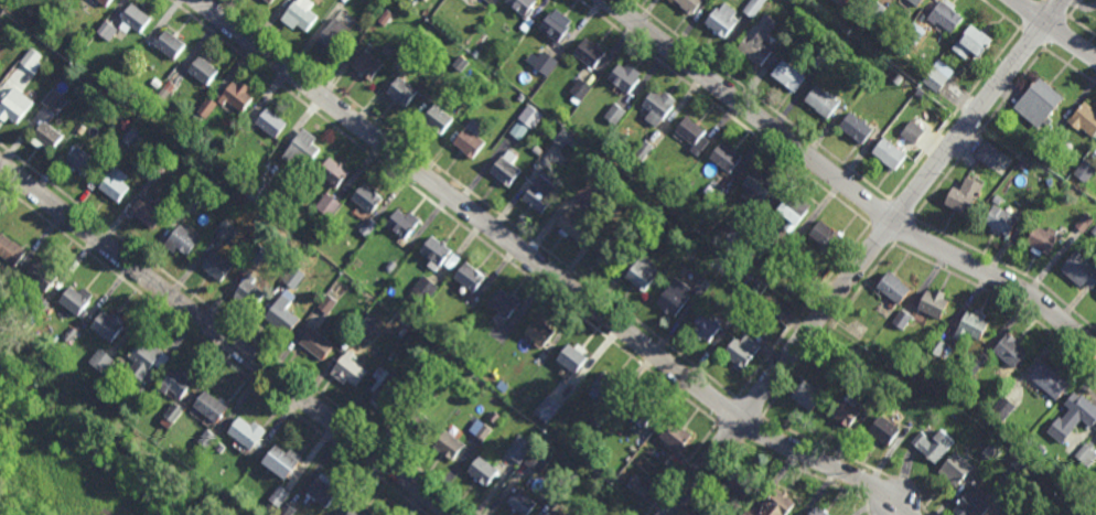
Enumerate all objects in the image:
building: (270, 1)
building: (104, 2)
building: (838, 2)
building: (915, 2)
building: (520, 6)
building: (689, 6)
building: (752, 7)
road: (1056, 9)
road: (1075, 9)
building: (875, 11)
building: (298, 14)
building: (943, 14)
road: (999, 14)
road: (1029, 14)
building: (721, 20)
building: (132, 22)
building: (552, 25)
building: (12, 26)
road: (1082, 26)
building: (860, 29)
road: (1054, 29)
building: (107, 30)
road: (1055, 32)
building: (913, 33)
building: (333, 36)
building: (782, 39)
road: (1030, 39)
building: (969, 43)
building: (169, 46)
building: (388, 51)
building: (753, 51)
building: (588, 55)
building: (820, 58)
building: (31, 60)
building: (466, 62)
building: (541, 63)
road: (1070, 65)
building: (366, 67)
building: (202, 73)
building: (787, 76)
building: (937, 76)
building: (624, 79)
building: (898, 79)
building: (154, 83)
building: (169, 88)
building: (580, 90)
building: (400, 92)
building: (163, 94)
building: (237, 97)
building: (520, 97)
road: (759, 99)
building: (55, 101)
building: (1038, 103)
building: (819, 104)
building: (206, 107)
building: (13, 108)
building: (656, 108)
road: (724, 111)
building: (614, 114)
road: (953, 114)
building: (530, 117)
building: (1084, 119)
building: (270, 124)
building: (437, 125)
building: (80, 129)
building: (855, 129)
building: (518, 130)
building: (689, 132)
building: (912, 132)
road: (979, 132)
building: (130, 136)
building: (1047, 137)
building: (49, 138)
building: (567, 140)
building: (469, 141)
building: (302, 149)
building: (592, 150)
building: (536, 151)
building: (643, 151)
building: (585, 153)
building: (887, 154)
building: (989, 155)
building: (723, 160)
building: (598, 162)
building: (79, 164)
building: (1022, 165)
building: (632, 168)
building: (504, 169)
building: (643, 171)
building: (1085, 171)
building: (155, 173)
building: (334, 173)
building: (594, 176)
building: (243, 183)
road: (844, 184)
building: (757, 186)
building: (115, 187)
building: (257, 189)
building: (584, 190)
building: (720, 194)
building: (538, 195)
building: (365, 199)
road: (479, 199)
building: (961, 199)
building: (997, 199)
building: (625, 200)
building: (191, 203)
building: (327, 205)
road: (901, 208)
building: (147, 211)
road: (879, 212)
road: (444, 213)
building: (792, 213)
building: (1000, 222)
building: (1084, 222)
building: (399, 223)
building: (660, 225)
building: (572, 226)
building: (368, 227)
road: (905, 229)
building: (226, 230)
road: (883, 233)
building: (649, 238)
building: (824, 238)
building: (183, 242)
building: (734, 243)
building: (784, 243)
building: (1039, 244)
building: (608, 248)
building: (796, 250)
building: (9, 253)
building: (436, 253)
building: (258, 255)
road: (864, 257)
building: (390, 266)
road: (1009, 266)
building: (216, 269)
road: (547, 270)
building: (1079, 272)
building: (642, 273)
building: (37, 278)
building: (294, 278)
building: (469, 278)
building: (701, 288)
building: (423, 291)
building: (893, 291)
building: (248, 292)
road: (1001, 298)
building: (670, 301)
building: (72, 302)
building: (40, 304)
building: (326, 304)
building: (505, 305)
building: (934, 305)
building: (777, 309)
road: (804, 311)
building: (738, 312)
building: (280, 313)
building: (463, 313)
building: (365, 318)
building: (902, 318)
building: (105, 326)
building: (970, 329)
road: (238, 330)
building: (362, 330)
building: (703, 331)
road: (829, 331)
building: (69, 333)
building: (539, 335)
road: (226, 339)
building: (315, 345)
building: (851, 347)
building: (941, 347)
road: (214, 350)
building: (1009, 352)
building: (740, 353)
building: (394, 354)
building: (100, 360)
building: (571, 360)
building: (142, 362)
building: (974, 365)
building: (347, 372)
building: (912, 374)
building: (1047, 382)
building: (178, 384)
building: (140, 390)
building: (605, 390)
building: (429, 395)
building: (875, 396)
building: (807, 398)
building: (384, 399)
building: (548, 407)
building: (1003, 407)
building: (208, 408)
road: (750, 408)
road: (728, 411)
building: (640, 412)
building: (171, 415)
building: (844, 415)
building: (1072, 419)
building: (418, 426)
building: (593, 427)
road: (753, 428)
building: (483, 431)
building: (883, 431)
building: (244, 432)
building: (1020, 433)
road: (730, 434)
building: (674, 436)
building: (207, 438)
building: (531, 438)
building: (1033, 441)
building: (221, 447)
building: (448, 447)
building: (519, 448)
building: (934, 448)
building: (991, 448)
building: (200, 451)
building: (1086, 453)
road: (855, 460)
building: (537, 461)
building: (1022, 462)
building: (279, 463)
road: (685, 470)
building: (956, 470)
building: (481, 473)
road: (714, 475)
road: (809, 475)
building: (738, 485)
building: (640, 487)
building: (321, 491)
building: (1093, 494)
building: (279, 495)
building: (557, 495)
building: (974, 501)
building: (520, 504)
building: (777, 505)
building: (270, 508)
building: (286, 509)
building: (357, 511)
building: (748, 513)
building: (817, 513)
building: (1007, 513)
building: (552, 514)
building: (592, 514)

